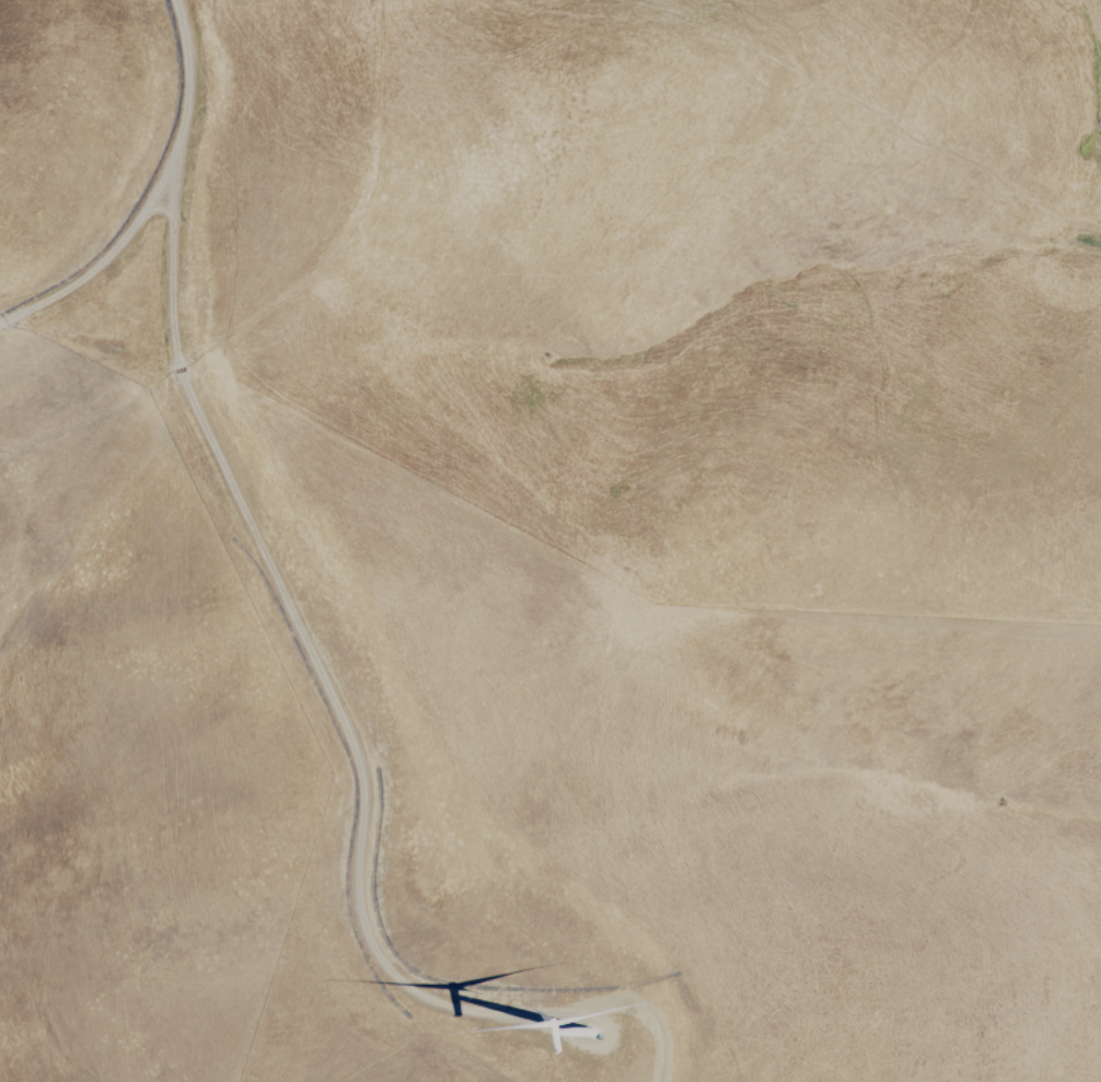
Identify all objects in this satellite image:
road: (150, 197)
road: (336, 748)
wind turbine: (587, 1024)

